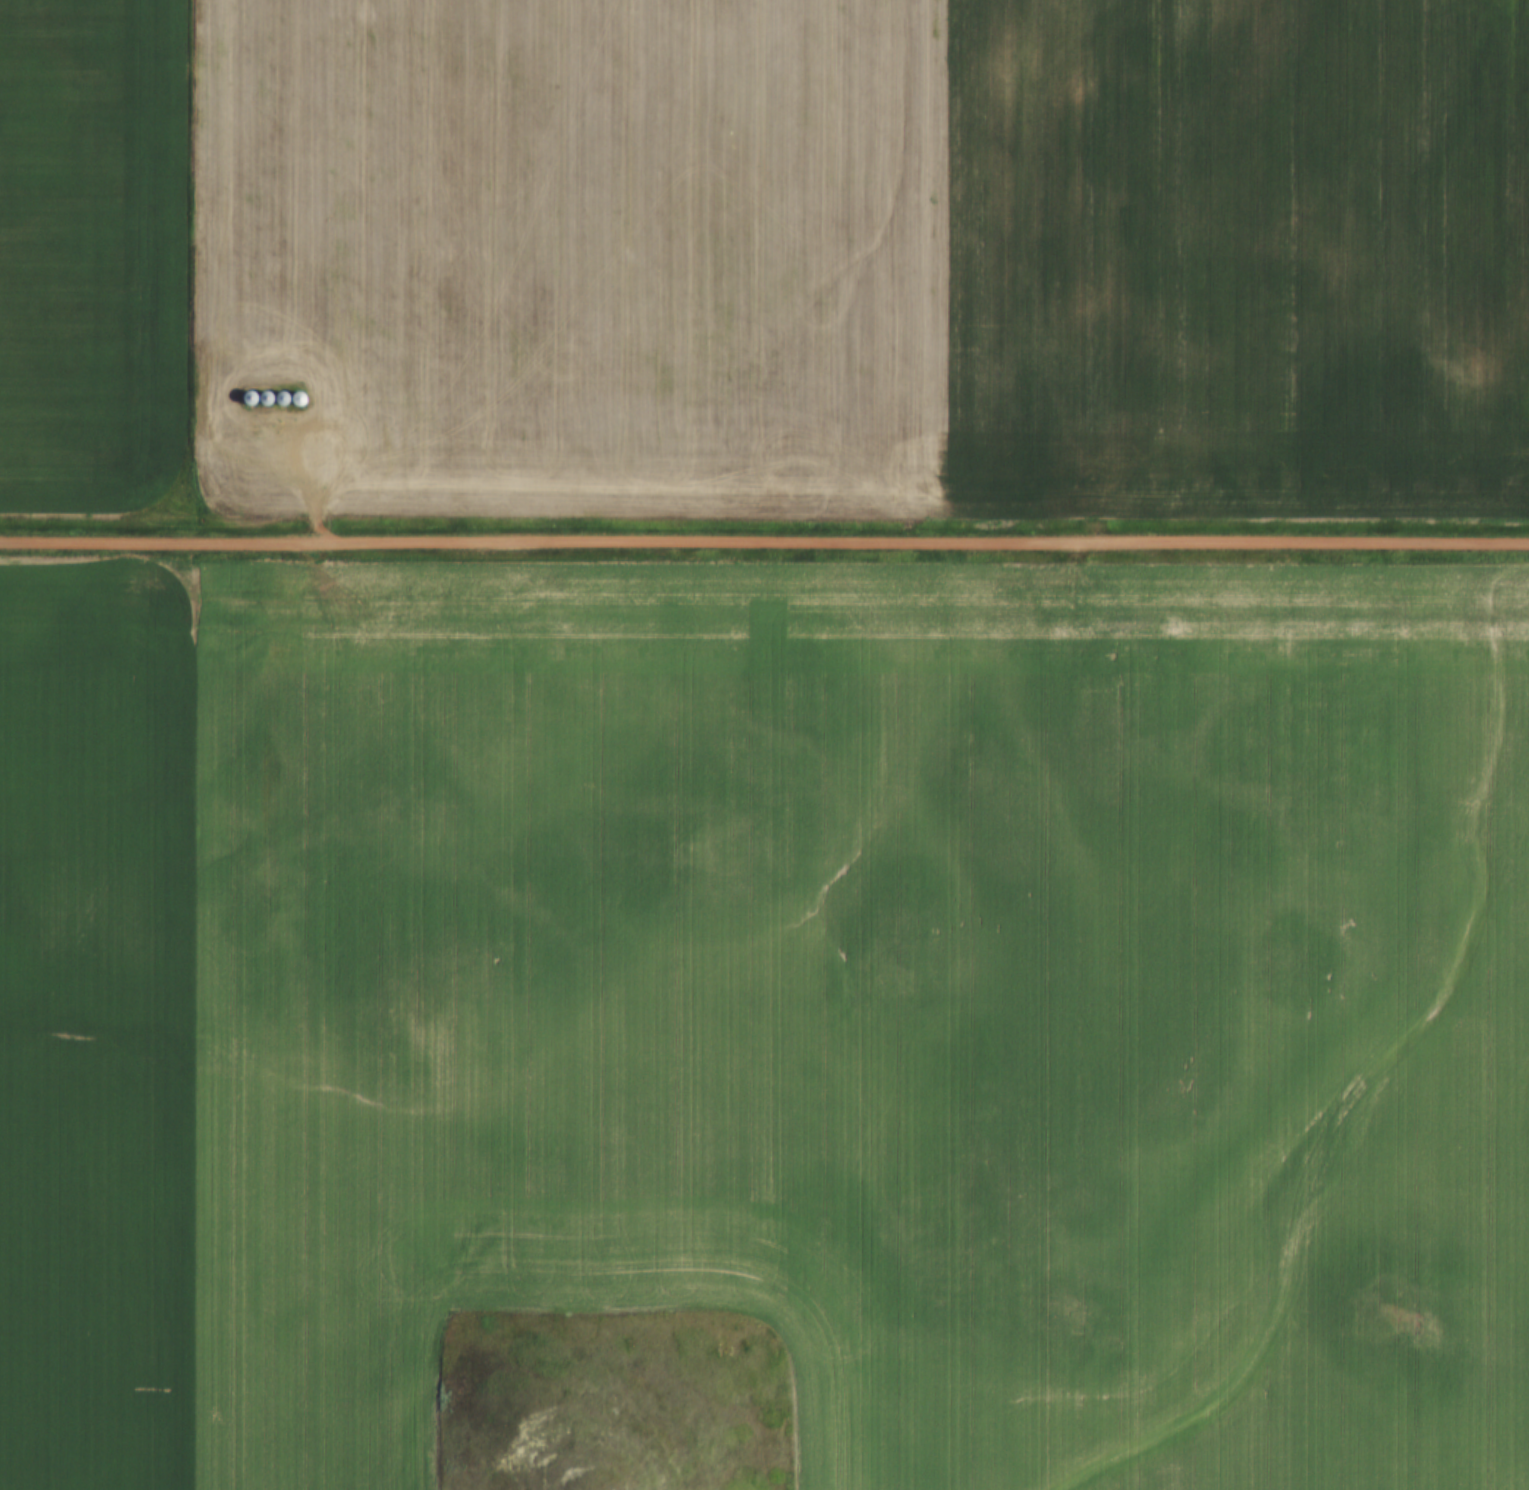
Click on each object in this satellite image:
road: (764, 541)

